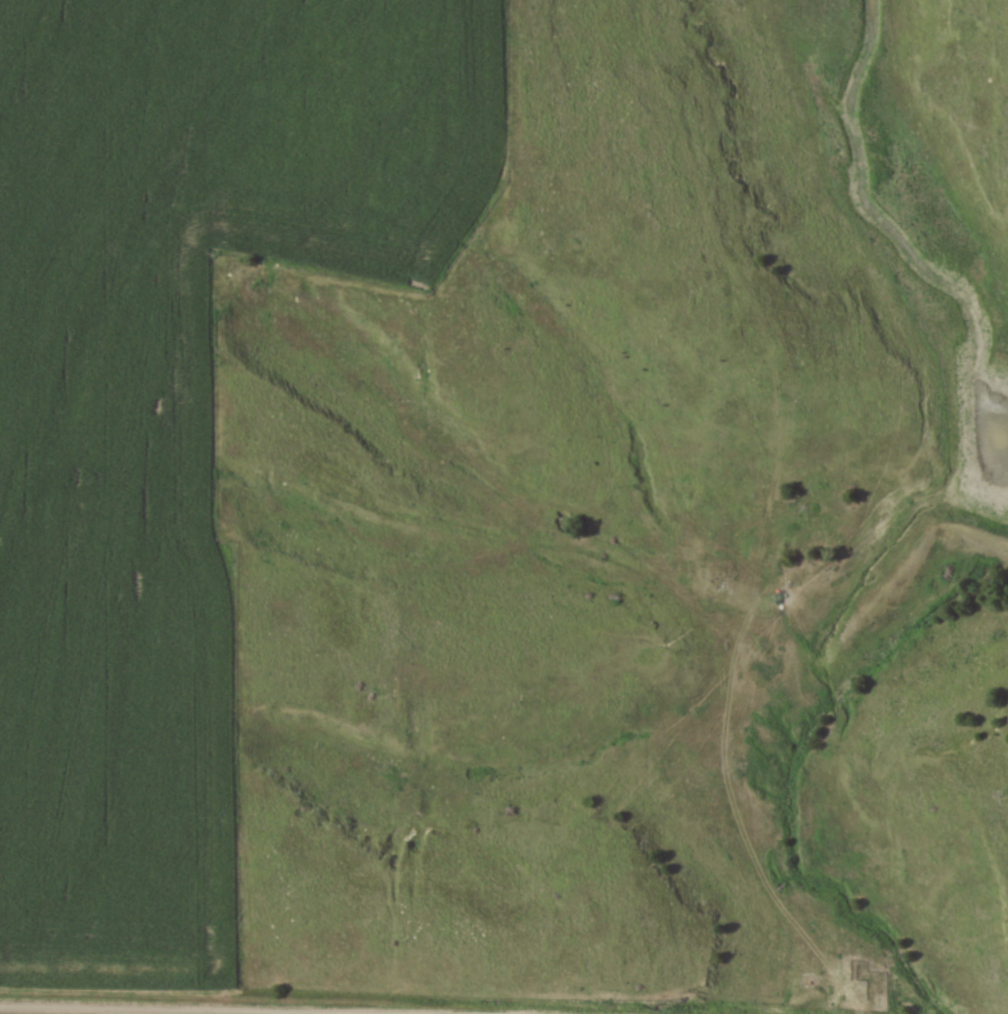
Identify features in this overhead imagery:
road: (153, 1009)

